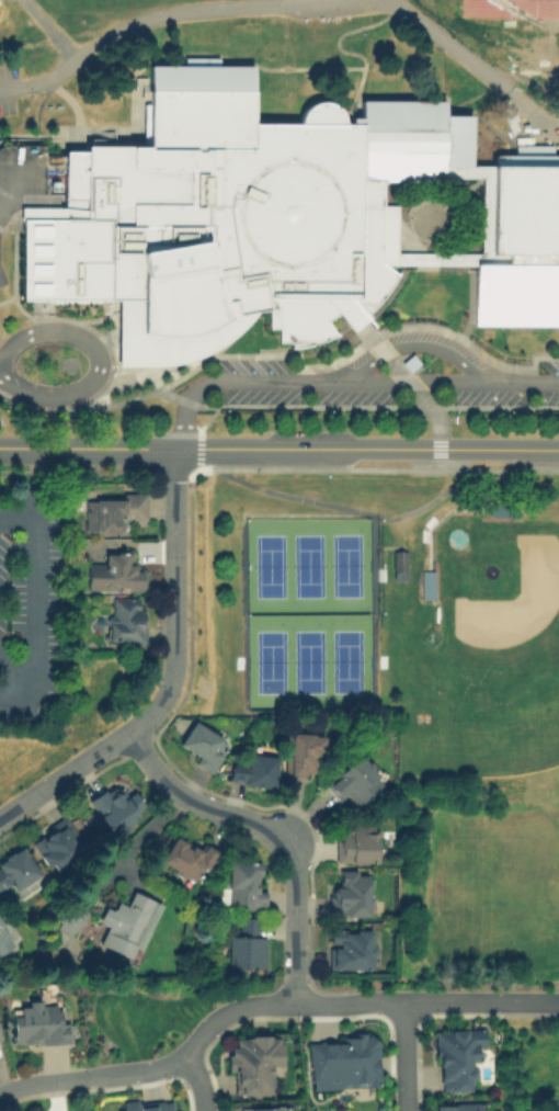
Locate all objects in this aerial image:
track: (512, 8)
road: (174, 11)
road: (48, 30)
road: (338, 48)
road: (471, 66)
building: (139, 88)
road: (13, 89)
parking lot: (11, 91)
road: (37, 104)
road: (16, 134)
road: (30, 139)
road: (2, 170)
building: (278, 218)
road: (1, 228)
road: (12, 262)
road: (5, 298)
road: (417, 342)
road: (95, 362)
road: (308, 369)
road: (104, 379)
road: (345, 384)
road: (406, 387)
road: (344, 407)
road: (278, 447)
road: (437, 450)
road: (296, 501)
building: (115, 513)
road: (18, 519)
road: (372, 520)
park: (269, 566)
park: (307, 566)
park: (344, 566)
building: (117, 574)
building: (425, 585)
road: (35, 588)
building: (128, 623)
park: (269, 661)
park: (308, 661)
park: (345, 661)
park: (510, 665)
road: (16, 674)
road: (172, 676)
building: (205, 748)
building: (304, 756)
building: (255, 772)
building: (354, 782)
building: (117, 810)
road: (275, 830)
road: (137, 839)
building: (59, 847)
building: (357, 850)
building: (190, 860)
building: (18, 872)
building: (244, 886)
park: (492, 888)
building: (351, 897)
building: (71, 920)
building: (129, 926)
building: (4, 941)
building: (244, 946)
building: (352, 951)
road: (481, 1002)
road: (350, 1004)
road: (231, 1011)
building: (39, 1027)
building: (0, 1040)
road: (406, 1056)
building: (463, 1056)
building: (259, 1063)
building: (343, 1063)
road: (92, 1077)
road: (198, 1082)
building: (136, 1107)
building: (468, 1108)
building: (264, 1110)

